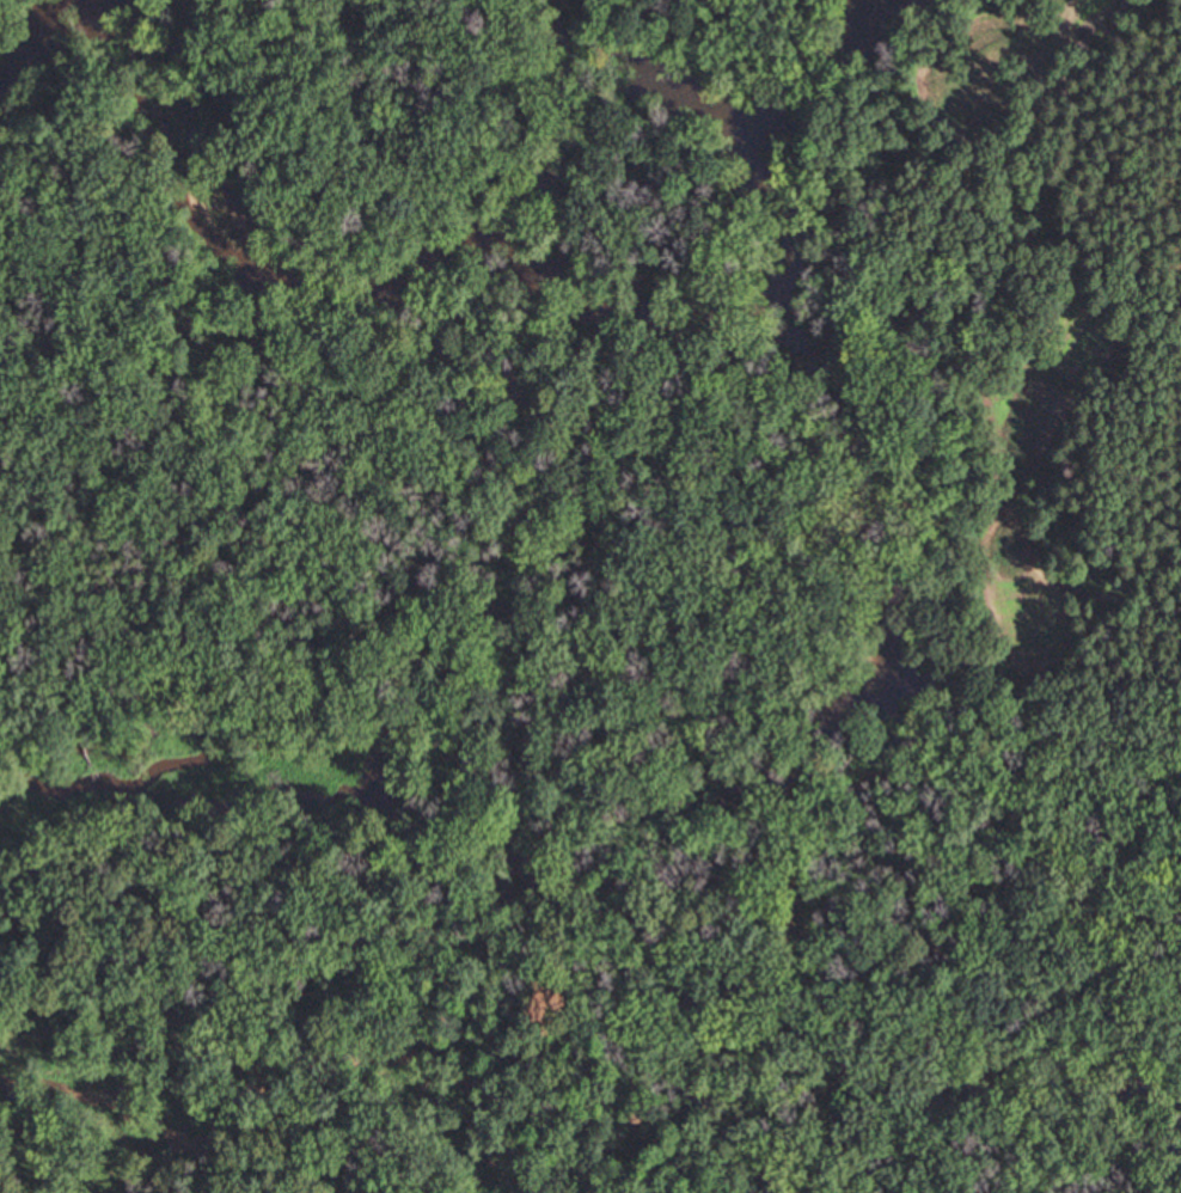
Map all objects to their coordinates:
river: (75, 893)

